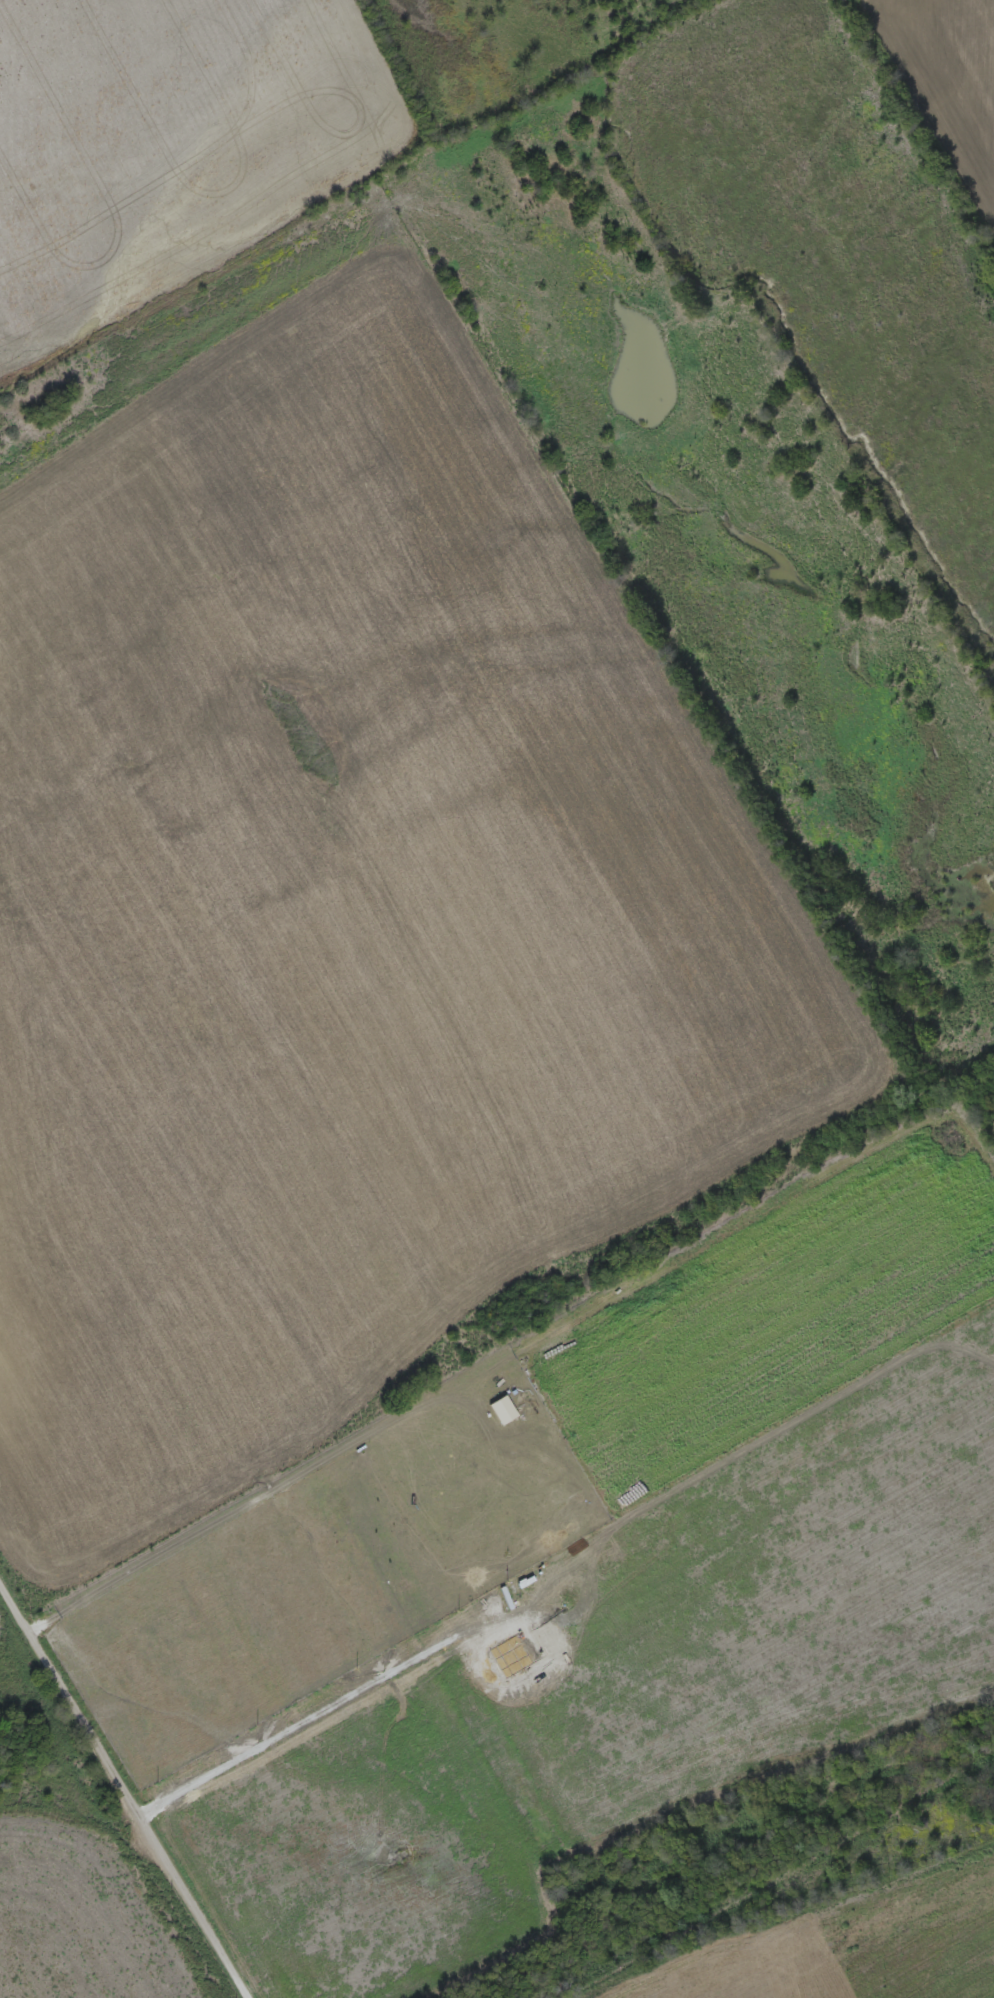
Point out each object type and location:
road: (123, 1793)

